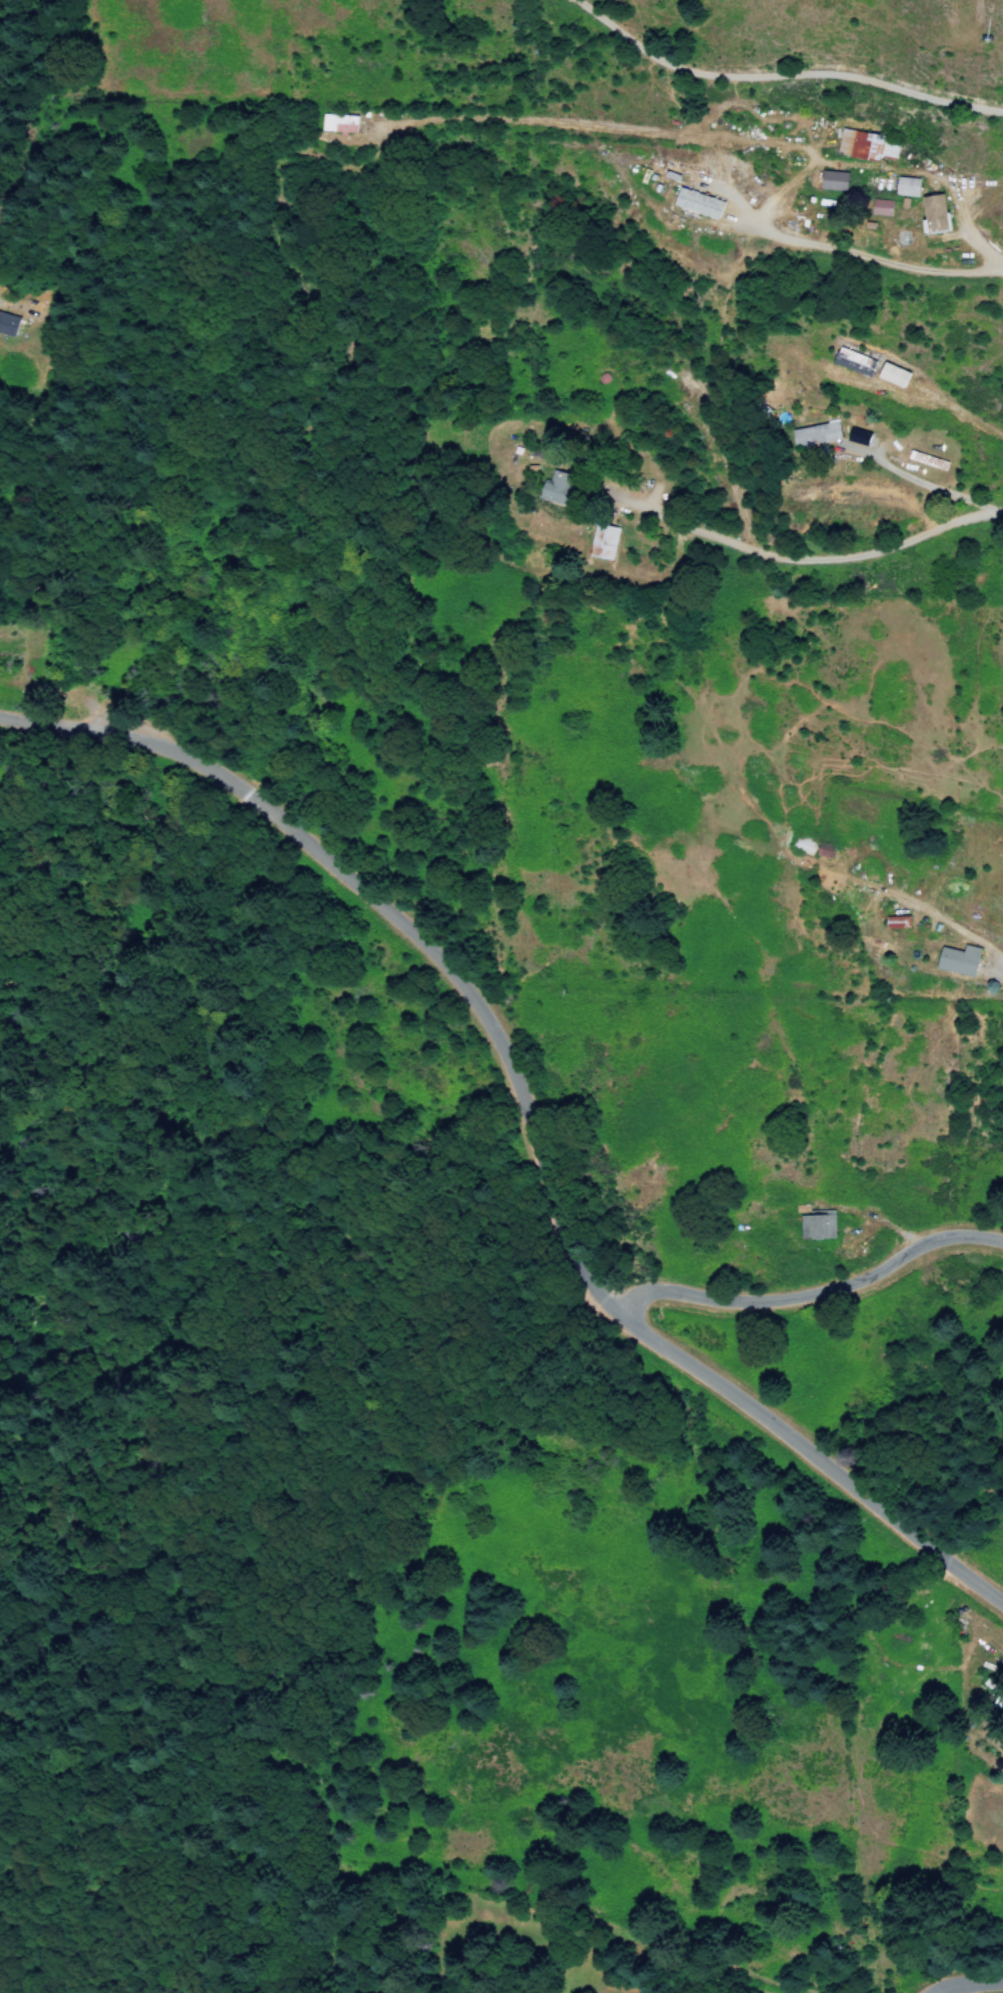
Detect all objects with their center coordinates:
road: (784, 75)
building: (339, 124)
building: (866, 147)
building: (833, 181)
building: (906, 187)
building: (697, 204)
building: (881, 207)
building: (934, 215)
building: (6, 325)
building: (853, 362)
building: (892, 375)
building: (815, 435)
building: (556, 488)
building: (602, 543)
road: (814, 560)
building: (803, 845)
building: (824, 850)
building: (897, 922)
building: (958, 960)
road: (1000, 968)
road: (530, 1120)
building: (820, 1226)
road: (813, 1298)
road: (969, 1981)

